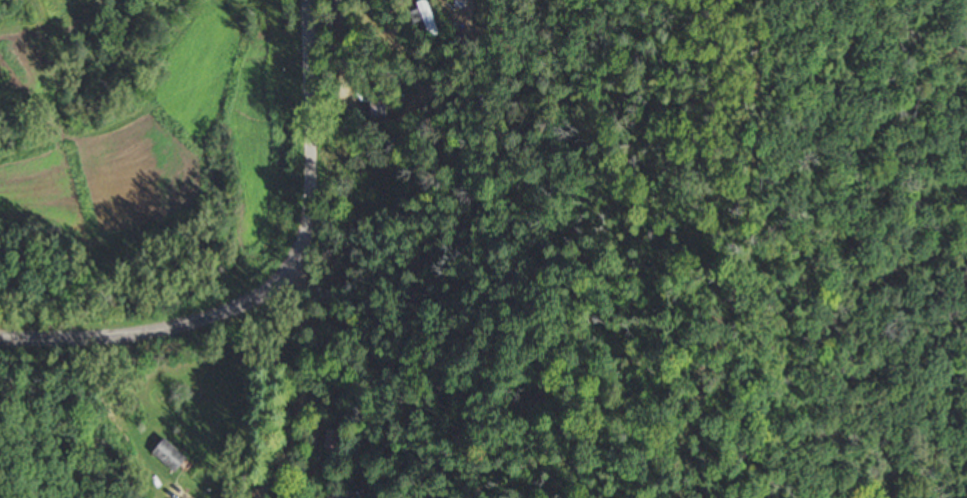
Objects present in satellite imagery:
building: (428, 19)
road: (272, 282)
road: (255, 399)
building: (168, 455)
building: (343, 494)

